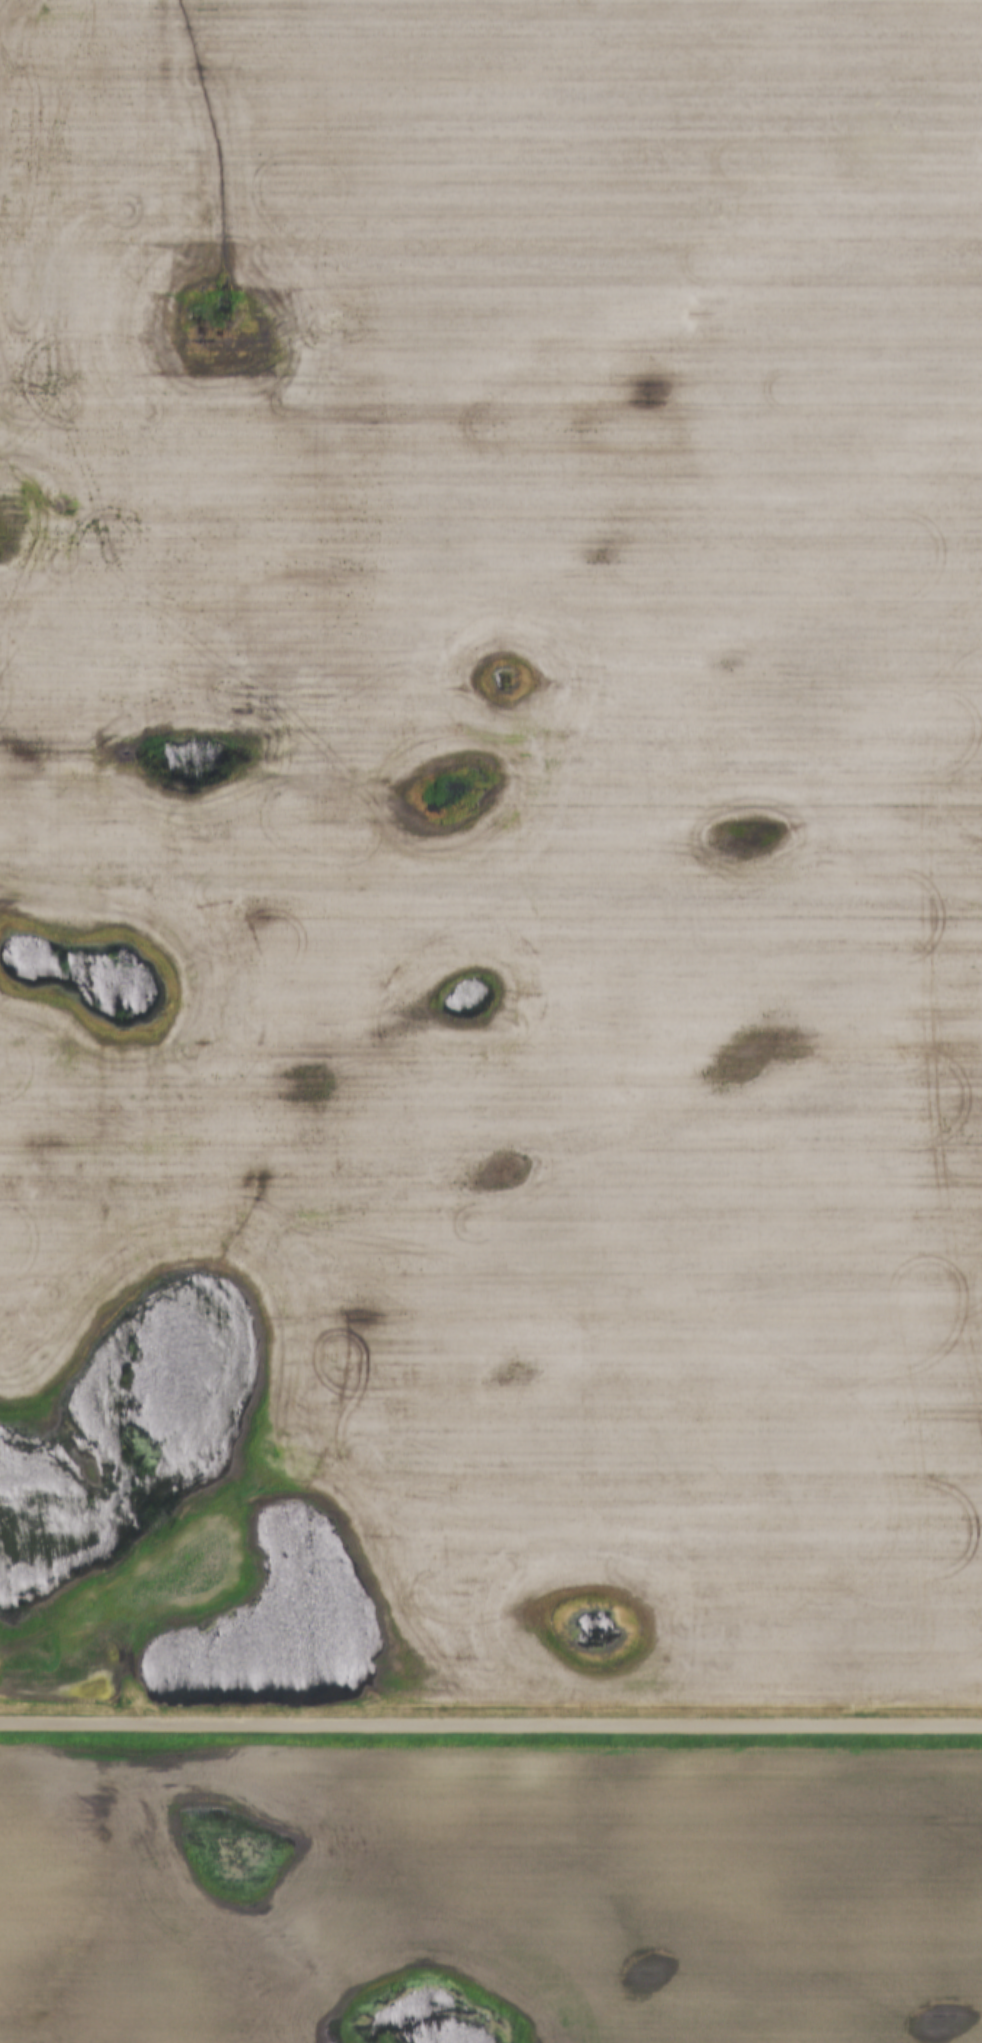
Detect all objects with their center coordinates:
road: (491, 1727)

